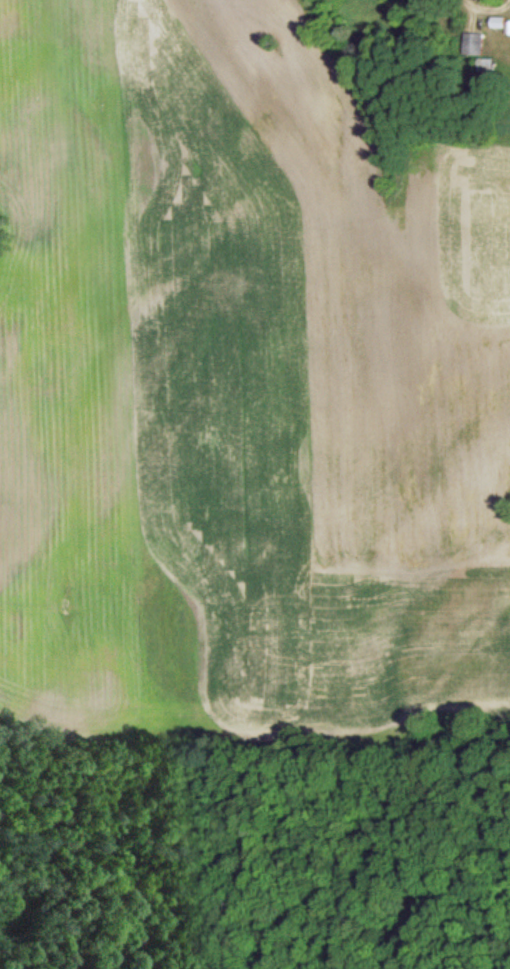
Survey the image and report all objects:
building: (473, 44)

